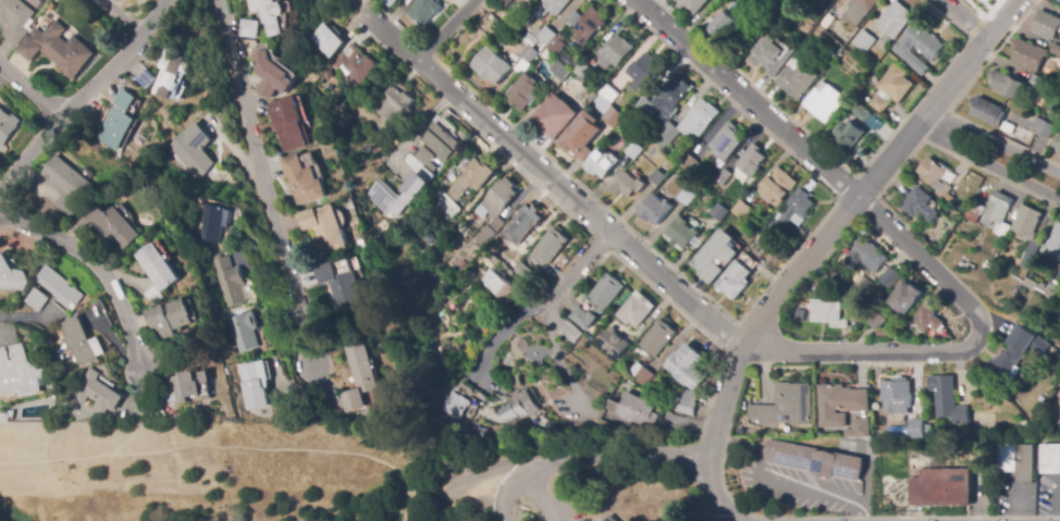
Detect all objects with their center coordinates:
building: (390, 2)
building: (503, 3)
building: (691, 5)
building: (550, 8)
building: (423, 11)
building: (513, 11)
building: (859, 11)
building: (267, 14)
road: (983, 14)
building: (15, 18)
road: (946, 18)
road: (120, 20)
building: (895, 20)
road: (965, 20)
building: (589, 25)
building: (724, 25)
building: (804, 25)
building: (1047, 25)
road: (976, 26)
building: (248, 28)
road: (445, 32)
building: (540, 33)
building: (863, 41)
building: (329, 42)
building: (555, 46)
building: (919, 47)
building: (58, 49)
building: (1056, 49)
building: (616, 51)
building: (543, 52)
building: (1028, 54)
building: (529, 55)
building: (767, 55)
building: (566, 60)
building: (353, 66)
building: (491, 66)
building: (169, 69)
building: (642, 69)
building: (559, 70)
building: (582, 72)
building: (270, 75)
building: (145, 78)
building: (797, 80)
road: (37, 84)
building: (895, 84)
building: (1007, 84)
building: (1037, 84)
building: (522, 92)
building: (608, 94)
building: (674, 97)
road: (747, 98)
road: (85, 100)
building: (125, 100)
building: (825, 102)
building: (878, 103)
building: (601, 104)
building: (393, 106)
building: (644, 106)
building: (577, 107)
building: (987, 111)
building: (861, 112)
building: (553, 116)
building: (612, 116)
building: (699, 119)
building: (287, 124)
building: (8, 125)
building: (1008, 127)
building: (1043, 127)
building: (115, 128)
road: (415, 133)
building: (850, 133)
building: (666, 135)
building: (579, 136)
building: (727, 141)
road: (996, 142)
building: (1057, 142)
building: (435, 147)
building: (192, 150)
building: (633, 150)
building: (750, 162)
road: (988, 162)
building: (601, 163)
building: (688, 163)
building: (668, 164)
building: (698, 165)
building: (692, 172)
building: (722, 176)
building: (935, 176)
building: (472, 177)
building: (656, 177)
building: (303, 181)
road: (551, 181)
building: (67, 185)
building: (628, 185)
building: (778, 187)
road: (268, 194)
building: (396, 196)
building: (687, 197)
building: (921, 204)
building: (495, 209)
building: (655, 209)
building: (797, 209)
building: (961, 209)
building: (740, 210)
building: (718, 212)
building: (975, 213)
building: (998, 213)
building: (526, 221)
building: (944, 222)
building: (211, 223)
building: (111, 225)
building: (461, 227)
building: (322, 228)
building: (506, 230)
building: (1028, 232)
building: (682, 233)
building: (1053, 245)
building: (550, 246)
road: (822, 246)
building: (870, 255)
building: (714, 256)
building: (562, 260)
building: (505, 261)
building: (461, 264)
building: (965, 264)
road: (102, 268)
road: (581, 270)
building: (521, 271)
building: (156, 272)
building: (989, 272)
building: (1058, 274)
building: (11, 276)
building: (737, 276)
building: (886, 277)
building: (227, 282)
building: (338, 283)
building: (459, 283)
building: (498, 286)
building: (60, 288)
building: (1039, 289)
building: (908, 298)
building: (36, 300)
building: (599, 300)
building: (1057, 303)
building: (636, 310)
building: (829, 313)
road: (19, 315)
building: (927, 317)
building: (169, 318)
building: (879, 325)
road: (504, 327)
building: (243, 332)
building: (569, 333)
building: (902, 336)
building: (658, 338)
building: (81, 342)
building: (614, 344)
road: (959, 349)
building: (1019, 351)
building: (687, 368)
building: (20, 373)
building: (639, 374)
building: (358, 375)
building: (517, 383)
building: (255, 384)
building: (657, 385)
building: (188, 387)
building: (618, 392)
building: (98, 394)
building: (897, 396)
building: (51, 397)
building: (947, 399)
building: (685, 402)
building: (839, 404)
building: (455, 406)
building: (518, 407)
building: (786, 407)
building: (636, 410)
building: (1056, 413)
building: (5, 418)
building: (541, 423)
building: (451, 424)
building: (602, 425)
building: (858, 429)
building: (909, 429)
building: (483, 432)
building: (619, 432)
road: (167, 450)
road: (362, 450)
building: (1049, 458)
road: (615, 459)
building: (814, 460)
building: (1014, 460)
building: (939, 487)
road: (515, 498)
road: (539, 500)
building: (612, 519)

